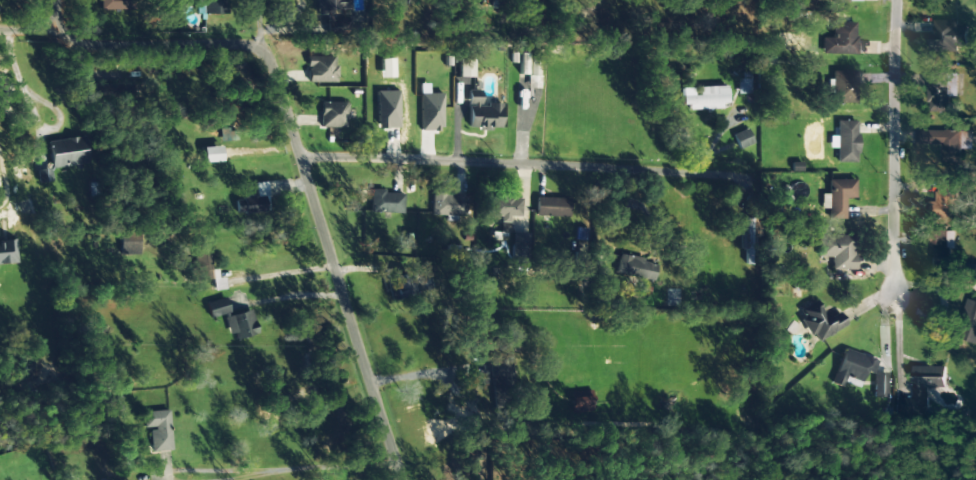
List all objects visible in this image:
building: (843, 1)
building: (116, 4)
building: (215, 7)
road: (16, 16)
building: (328, 17)
building: (949, 36)
building: (840, 40)
building: (465, 68)
building: (321, 69)
building: (743, 83)
building: (843, 87)
building: (939, 92)
building: (111, 95)
building: (703, 97)
building: (386, 109)
building: (430, 112)
building: (481, 113)
building: (333, 115)
building: (741, 139)
building: (845, 142)
road: (297, 146)
road: (889, 148)
building: (942, 149)
building: (66, 152)
road: (510, 153)
building: (211, 154)
building: (839, 197)
building: (253, 201)
building: (386, 202)
building: (447, 204)
building: (945, 204)
building: (551, 207)
building: (504, 209)
building: (519, 247)
building: (837, 251)
building: (7, 252)
building: (940, 252)
building: (205, 267)
building: (634, 268)
road: (282, 273)
building: (399, 287)
road: (290, 296)
building: (216, 308)
building: (969, 320)
building: (820, 321)
building: (240, 325)
building: (852, 369)
building: (500, 376)
building: (879, 385)
building: (921, 390)
building: (579, 406)
building: (157, 430)
road: (349, 475)

